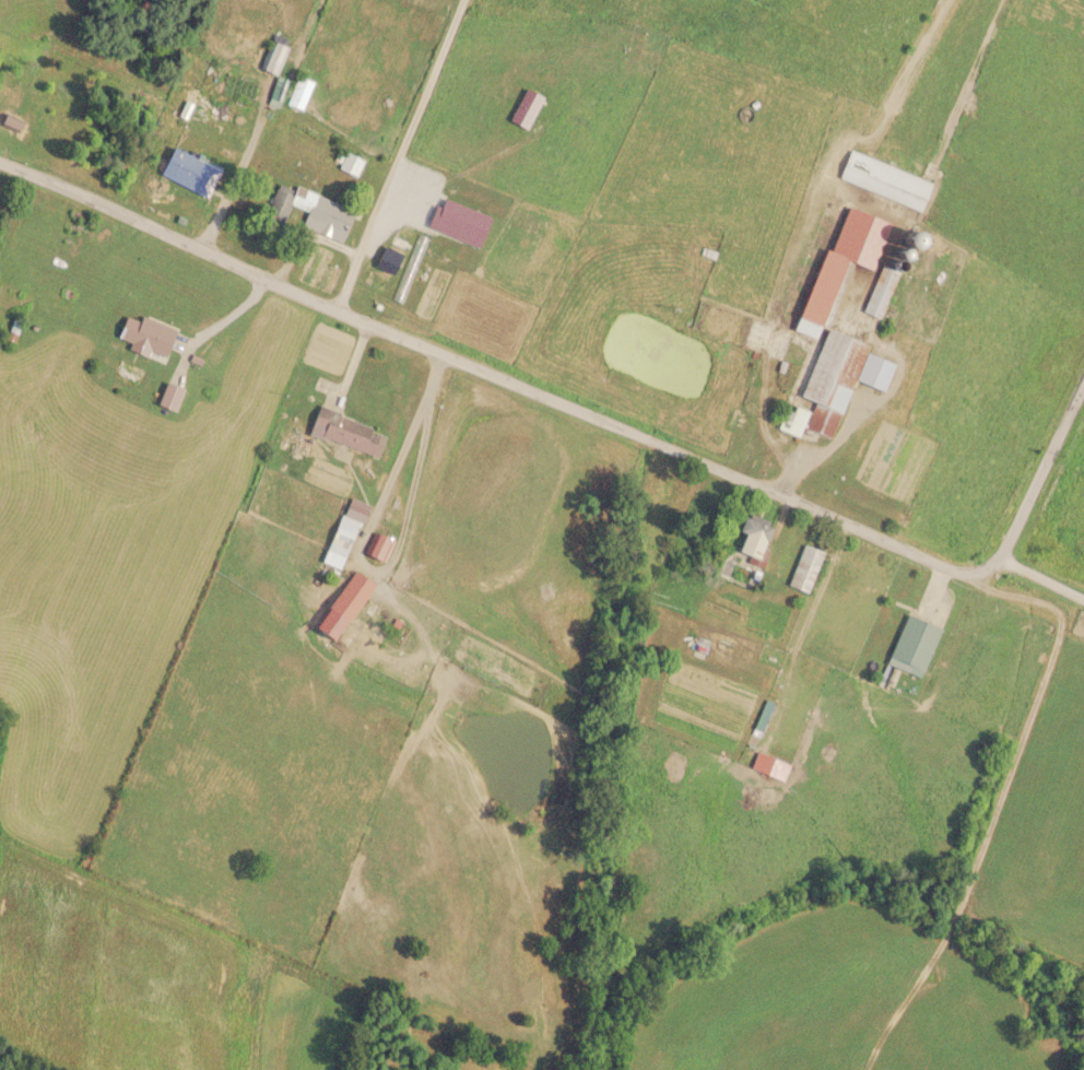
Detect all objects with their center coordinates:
building: (272, 58)
building: (297, 92)
building: (210, 105)
road: (398, 154)
building: (350, 163)
building: (186, 164)
building: (883, 179)
building: (286, 202)
building: (837, 267)
building: (880, 289)
building: (144, 336)
building: (832, 383)
building: (167, 397)
road: (596, 418)
building: (343, 529)
building: (750, 540)
building: (375, 548)
building: (803, 569)
road: (1039, 584)
building: (346, 597)
building: (912, 644)
building: (771, 768)

